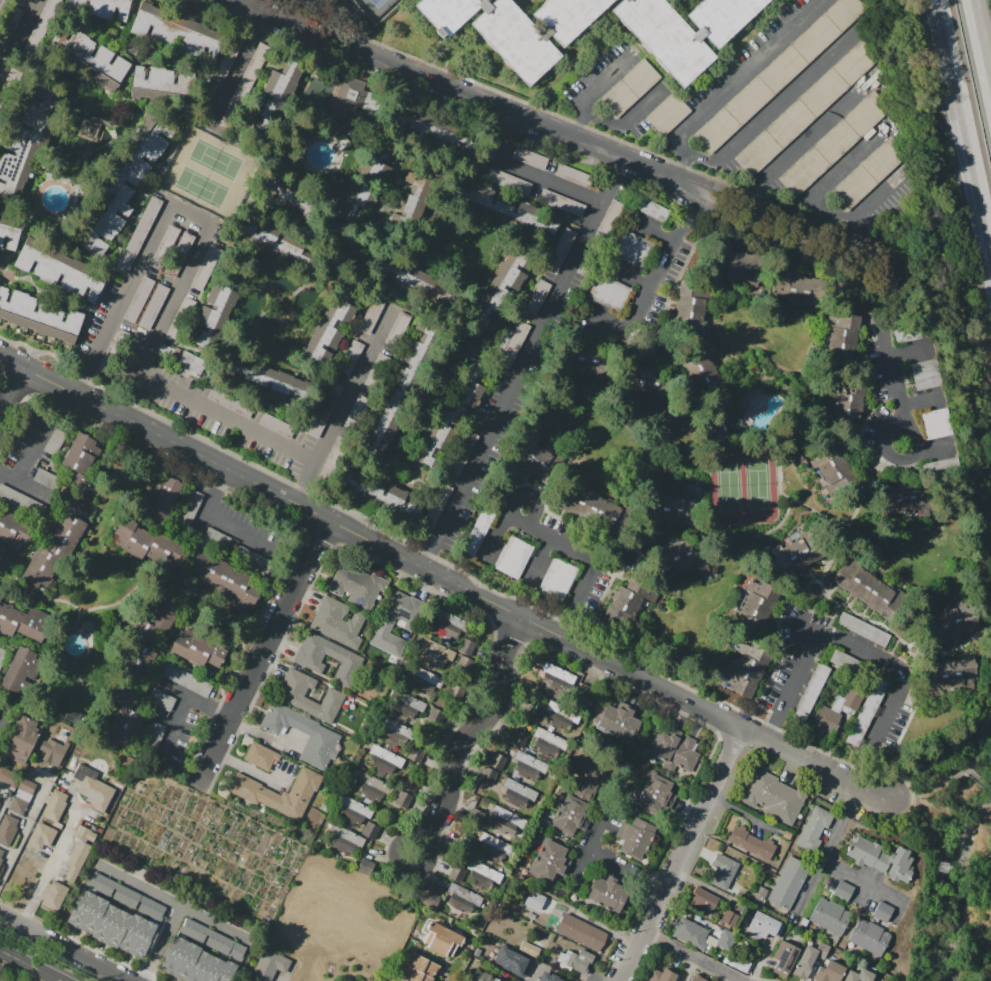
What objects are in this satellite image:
building: (28, 0)
road: (240, 1)
road: (779, 4)
building: (83, 6)
parking lot: (336, 7)
park: (374, 7)
building: (113, 9)
building: (448, 13)
building: (568, 17)
building: (722, 17)
building: (148, 20)
building: (9, 25)
building: (39, 28)
building: (178, 31)
road: (695, 31)
road: (548, 36)
building: (664, 37)
road: (18, 38)
road: (982, 38)
building: (514, 40)
building: (205, 42)
building: (67, 43)
building: (229, 55)
building: (91, 59)
road: (234, 69)
building: (779, 71)
building: (113, 73)
road: (745, 74)
building: (147, 84)
building: (244, 84)
building: (174, 89)
road: (453, 89)
building: (628, 90)
building: (207, 94)
building: (353, 95)
road: (784, 97)
building: (271, 102)
road: (640, 108)
building: (806, 108)
building: (668, 113)
parking lot: (778, 113)
road: (964, 121)
road: (579, 126)
building: (89, 128)
building: (432, 130)
road: (815, 130)
building: (30, 140)
building: (834, 143)
building: (490, 148)
building: (379, 157)
building: (529, 158)
road: (844, 162)
road: (712, 164)
road: (681, 166)
building: (868, 173)
road: (526, 174)
building: (571, 174)
building: (368, 179)
building: (508, 180)
building: (122, 183)
road: (681, 183)
building: (276, 188)
building: (414, 191)
building: (299, 202)
building: (561, 203)
building: (355, 206)
building: (645, 206)
building: (501, 208)
building: (608, 216)
road: (186, 218)
building: (402, 218)
road: (651, 229)
building: (10, 231)
building: (252, 232)
building: (139, 235)
building: (278, 244)
building: (165, 247)
building: (630, 247)
building: (560, 251)
building: (178, 254)
building: (589, 255)
building: (33, 256)
building: (304, 258)
road: (875, 261)
building: (728, 263)
road: (661, 264)
building: (205, 267)
building: (60, 270)
road: (628, 274)
road: (876, 274)
building: (86, 283)
building: (416, 283)
building: (500, 288)
building: (797, 288)
building: (608, 293)
building: (537, 297)
building: (138, 299)
building: (11, 305)
building: (222, 306)
building: (153, 307)
building: (696, 308)
building: (37, 315)
building: (371, 316)
building: (179, 320)
road: (606, 322)
building: (65, 325)
building: (329, 328)
building: (397, 329)
building: (910, 333)
building: (845, 334)
building: (503, 339)
building: (514, 344)
building: (112, 349)
road: (887, 353)
building: (350, 358)
building: (189, 363)
road: (524, 364)
building: (589, 368)
building: (377, 372)
building: (926, 374)
building: (716, 377)
building: (269, 381)
building: (649, 387)
road: (11, 393)
building: (397, 393)
building: (230, 403)
road: (346, 403)
building: (849, 403)
building: (324, 409)
building: (355, 413)
building: (449, 416)
road: (226, 419)
building: (938, 423)
building: (277, 426)
building: (717, 426)
building: (54, 441)
road: (31, 450)
building: (533, 451)
building: (79, 454)
building: (463, 454)
road: (912, 455)
building: (332, 460)
building: (833, 468)
building: (46, 478)
road: (24, 485)
building: (160, 495)
building: (378, 495)
building: (907, 499)
building: (83, 500)
building: (22, 501)
road: (512, 504)
building: (436, 505)
building: (590, 508)
building: (666, 508)
building: (189, 509)
road: (213, 524)
building: (478, 531)
building: (14, 532)
building: (65, 534)
building: (216, 537)
building: (149, 545)
building: (796, 553)
building: (686, 556)
building: (513, 557)
building: (250, 558)
road: (583, 558)
road: (540, 559)
building: (41, 568)
building: (558, 577)
building: (225, 578)
road: (442, 579)
building: (344, 580)
building: (867, 589)
building: (365, 590)
building: (0, 595)
building: (0, 597)
building: (630, 600)
building: (754, 604)
building: (0, 606)
building: (452, 620)
building: (952, 620)
building: (24, 622)
building: (338, 623)
building: (384, 627)
building: (445, 627)
building: (863, 629)
building: (149, 637)
building: (466, 647)
building: (198, 648)
building: (437, 648)
road: (264, 653)
building: (3, 654)
building: (433, 657)
building: (307, 658)
building: (462, 662)
building: (18, 670)
building: (747, 670)
building: (557, 673)
building: (948, 674)
building: (424, 675)
road: (903, 678)
building: (185, 679)
building: (420, 685)
road: (790, 689)
building: (454, 692)
building: (810, 692)
building: (856, 692)
building: (289, 696)
road: (190, 697)
building: (161, 699)
building: (414, 703)
building: (555, 707)
building: (403, 709)
building: (867, 711)
building: (532, 712)
building: (435, 716)
building: (123, 720)
building: (824, 720)
road: (2, 721)
building: (619, 722)
road: (472, 726)
building: (396, 727)
road: (171, 729)
building: (324, 735)
building: (153, 736)
building: (389, 737)
building: (550, 738)
building: (517, 739)
building: (22, 740)
building: (675, 750)
building: (53, 751)
building: (415, 754)
road: (978, 754)
building: (261, 756)
building: (386, 756)
building: (530, 761)
building: (497, 762)
building: (381, 765)
road: (247, 769)
road: (967, 769)
building: (526, 771)
building: (488, 776)
building: (8, 777)
road: (980, 782)
building: (375, 783)
road: (926, 787)
building: (94, 789)
building: (520, 789)
building: (405, 791)
building: (368, 792)
building: (258, 795)
building: (655, 795)
building: (774, 798)
building: (515, 799)
road: (4, 801)
building: (20, 801)
building: (577, 801)
building: (54, 805)
building: (355, 806)
building: (347, 814)
building: (507, 815)
building: (475, 817)
building: (504, 826)
building: (813, 827)
road: (23, 829)
building: (7, 830)
building: (370, 831)
building: (87, 832)
road: (696, 832)
building: (346, 835)
building: (41, 836)
building: (633, 838)
building: (751, 842)
building: (340, 843)
building: (496, 843)
road: (826, 851)
building: (1, 852)
building: (490, 853)
road: (56, 854)
building: (881, 858)
building: (0, 860)
building: (76, 860)
building: (549, 861)
road: (612, 863)
building: (365, 866)
road: (403, 867)
building: (481, 868)
power tower: (942, 868)
building: (723, 870)
building: (456, 874)
building: (479, 880)
road: (863, 880)
building: (788, 882)
road: (139, 887)
building: (733, 890)
building: (843, 890)
building: (606, 893)
building: (53, 895)
building: (759, 895)
building: (462, 897)
building: (430, 899)
building: (703, 901)
building: (548, 904)
road: (177, 908)
building: (883, 912)
building: (116, 915)
building: (830, 916)
building: (730, 918)
building: (763, 925)
building: (581, 933)
building: (691, 933)
building: (870, 937)
building: (441, 939)
building: (726, 939)
road: (68, 947)
building: (529, 948)
building: (201, 954)
building: (785, 956)
road: (634, 957)
road: (694, 957)
building: (575, 959)
building: (809, 959)
building: (511, 962)
road: (31, 965)
building: (269, 965)
building: (739, 965)
building: (423, 966)
building: (830, 972)
building: (662, 974)
building: (416, 976)
building: (481, 976)
building: (859, 976)
building: (549, 977)
building: (697, 978)
building: (402, 979)
building: (515, 980)

